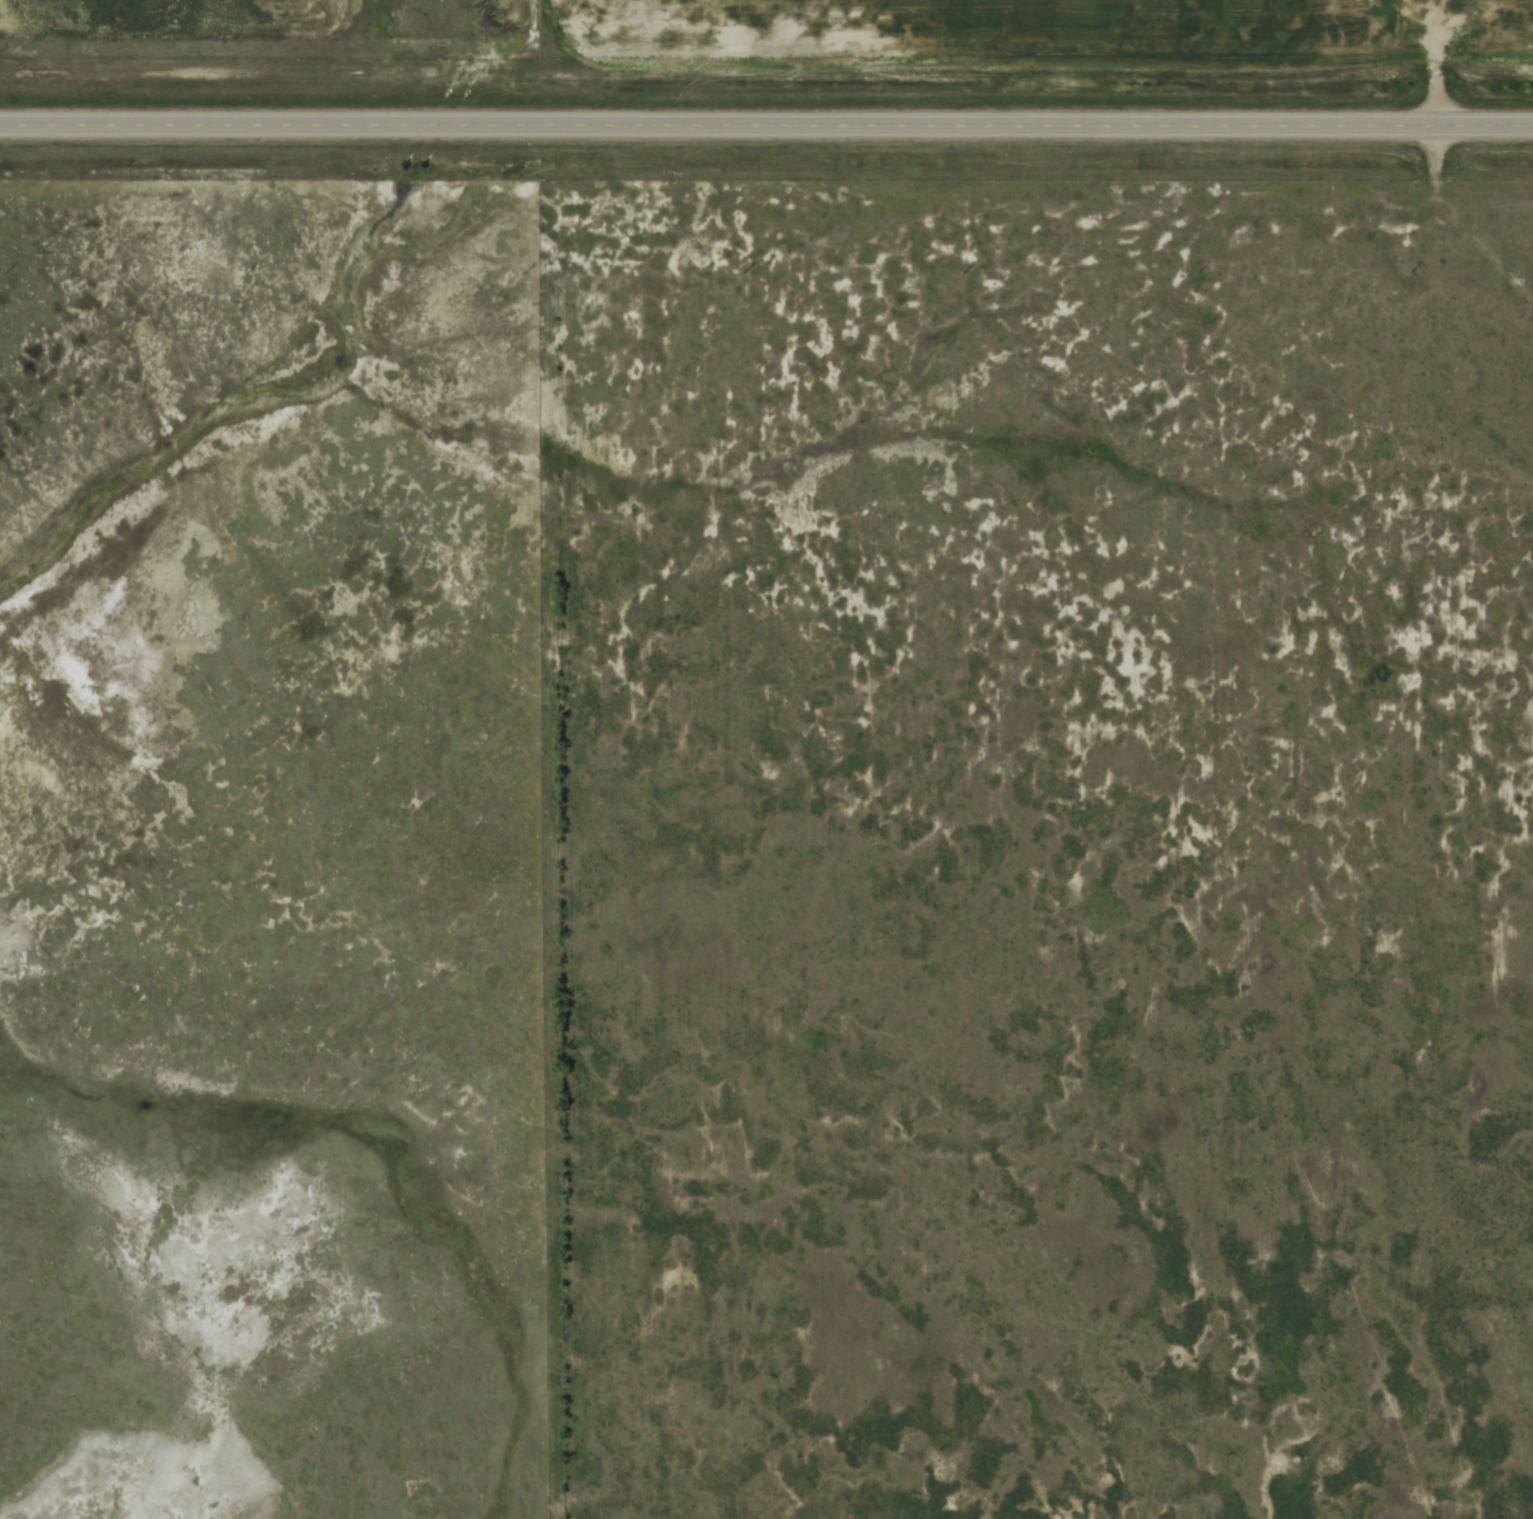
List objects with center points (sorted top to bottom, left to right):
road: (766, 132)

